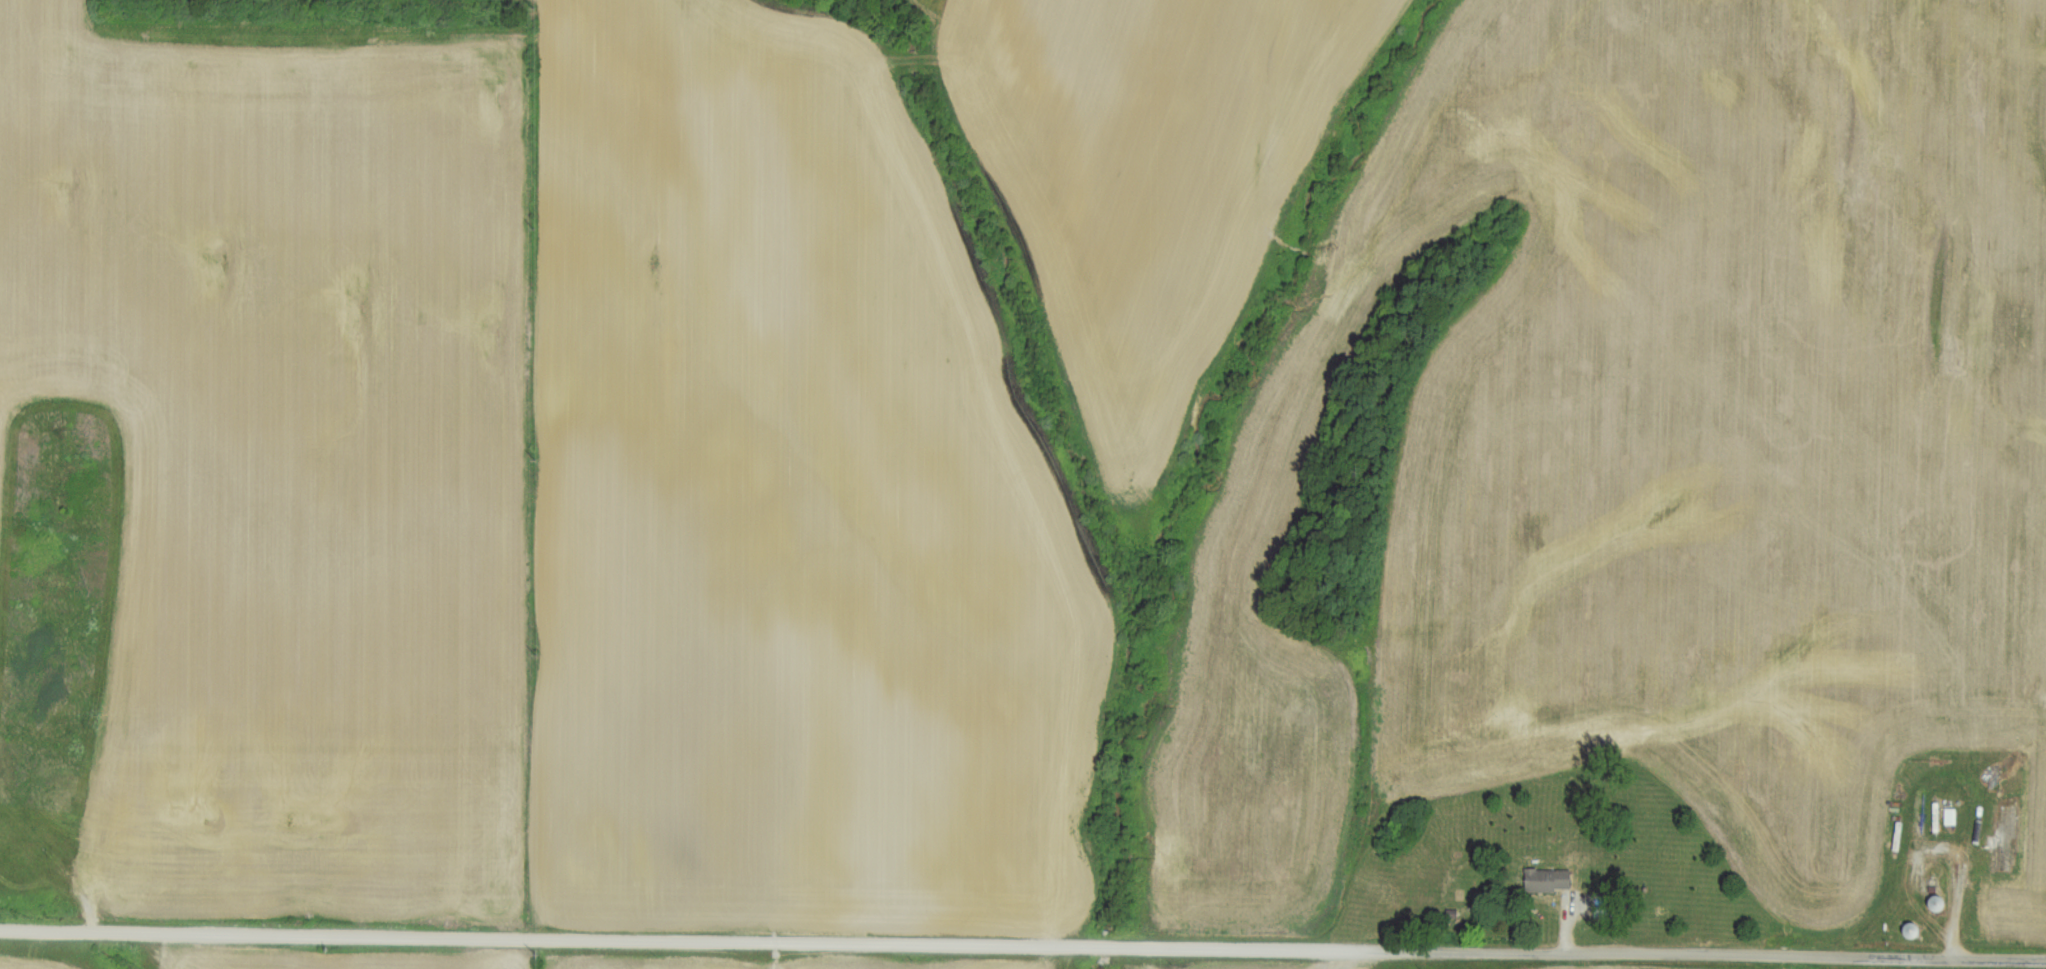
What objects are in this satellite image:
building: (1952, 817)
building: (1549, 880)
building: (1936, 903)
building: (1453, 913)
building: (1911, 930)
road: (1023, 946)
road: (1865, 963)

